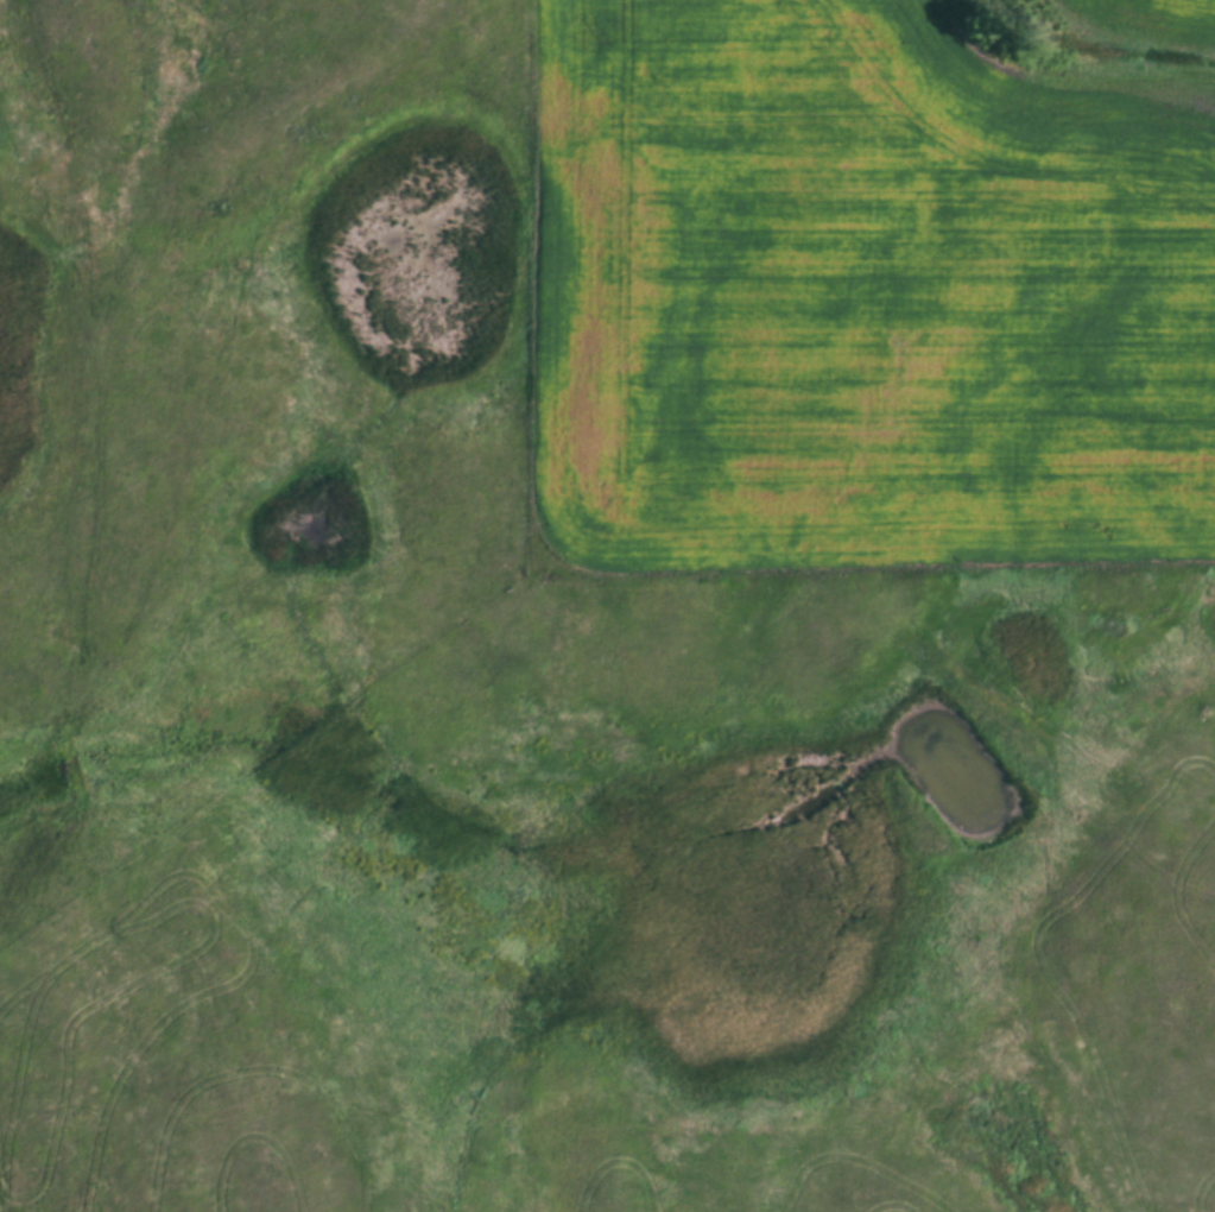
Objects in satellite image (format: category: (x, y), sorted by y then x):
river: (963, 778)

